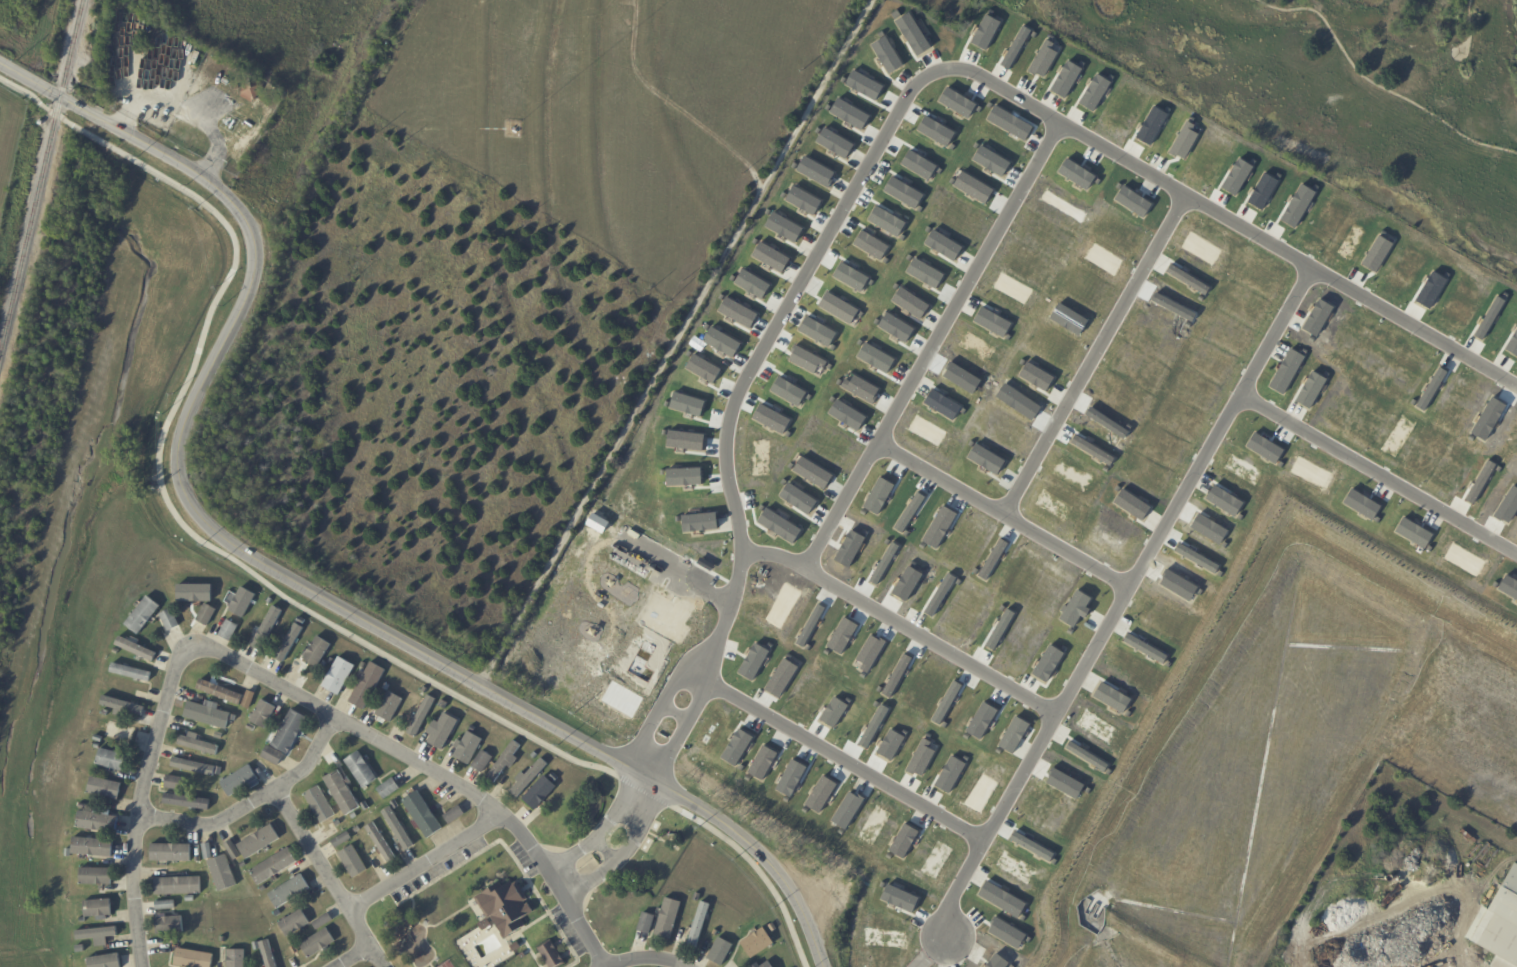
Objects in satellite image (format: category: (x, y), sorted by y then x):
road: (1468, 20)
road: (1455, 60)
road: (1376, 84)
building: (253, 90)
park: (1342, 94)
railway: (41, 177)
road: (1199, 195)
road: (1419, 323)
road: (940, 341)
road: (676, 343)
road: (1102, 350)
road: (1382, 467)
road: (1011, 508)
road: (265, 567)
road: (259, 578)
building: (198, 592)
building: (270, 600)
building: (242, 602)
building: (207, 614)
building: (143, 615)
building: (171, 619)
road: (908, 620)
building: (268, 628)
building: (230, 629)
building: (297, 630)
building: (136, 649)
building: (287, 650)
building: (116, 651)
building: (317, 652)
road: (711, 659)
building: (332, 660)
building: (326, 663)
building: (363, 664)
building: (131, 673)
building: (339, 676)
building: (369, 685)
building: (387, 686)
road: (284, 688)
building: (425, 690)
building: (222, 691)
building: (250, 699)
building: (129, 705)
building: (218, 705)
building: (390, 706)
building: (106, 712)
building: (199, 712)
building: (264, 714)
building: (422, 716)
building: (252, 727)
building: (444, 730)
building: (292, 731)
building: (121, 733)
building: (220, 735)
building: (99, 738)
building: (199, 743)
building: (98, 745)
building: (468, 748)
building: (274, 755)
building: (535, 755)
road: (851, 758)
building: (112, 760)
building: (504, 761)
building: (483, 762)
building: (195, 766)
building: (362, 770)
building: (555, 777)
building: (529, 778)
building: (242, 780)
building: (176, 783)
building: (105, 788)
building: (389, 788)
building: (342, 793)
building: (541, 793)
building: (85, 798)
building: (188, 801)
road: (252, 802)
building: (321, 805)
building: (395, 805)
building: (83, 806)
building: (366, 806)
building: (423, 814)
building: (455, 814)
building: (98, 821)
building: (369, 821)
building: (338, 823)
building: (398, 827)
road: (602, 829)
building: (343, 840)
building: (261, 841)
building: (380, 842)
building: (93, 847)
building: (234, 850)
building: (209, 851)
building: (171, 852)
road: (625, 852)
building: (69, 853)
road: (510, 853)
parking lot: (522, 857)
building: (198, 859)
road: (425, 861)
building: (354, 862)
building: (244, 864)
building: (274, 867)
parking lot: (438, 867)
building: (224, 873)
building: (96, 877)
road: (330, 877)
building: (178, 886)
building: (264, 888)
building: (290, 891)
building: (698, 897)
building: (504, 904)
building: (167, 905)
building: (219, 906)
building: (98, 908)
building: (278, 913)
road: (446, 917)
building: (669, 918)
building: (83, 920)
building: (324, 921)
road: (532, 921)
building: (765, 921)
building: (483, 922)
building: (647, 922)
building: (294, 923)
building: (699, 924)
building: (170, 925)
building: (1499, 925)
parking lot: (568, 930)
building: (97, 933)
building: (716, 933)
building: (223, 939)
building: (175, 941)
building: (318, 943)
building: (757, 943)
building: (513, 944)
building: (257, 946)
road: (528, 949)
building: (295, 950)
building: (721, 951)
building: (521, 953)
building: (269, 954)
building: (552, 954)
road: (352, 955)
road: (645, 957)
building: (194, 958)
building: (236, 958)
building: (106, 961)
park: (446, 964)
building: (758, 965)
building: (767, 965)

